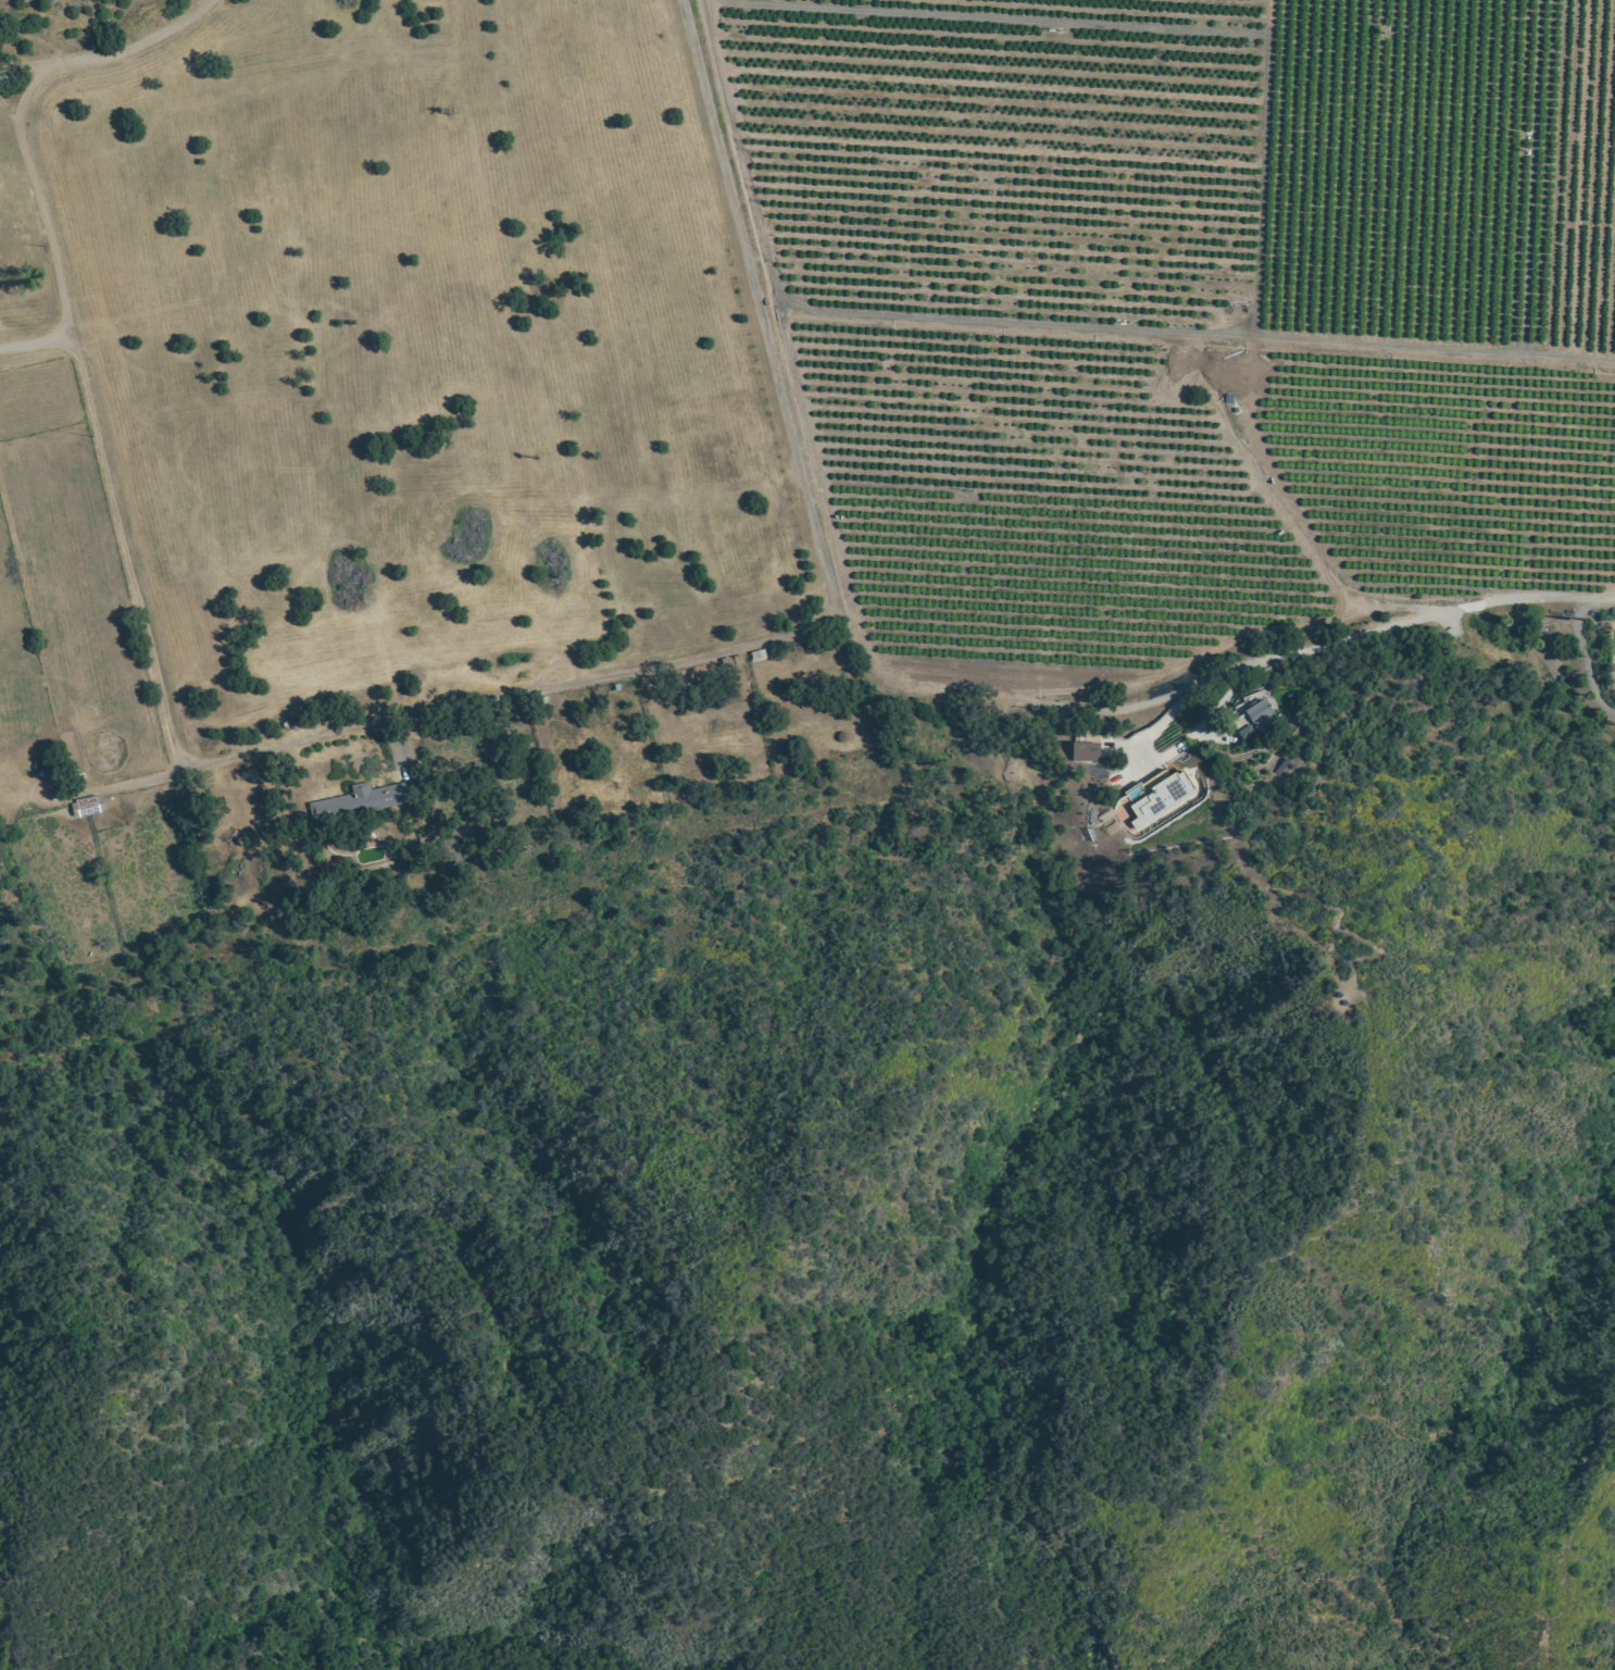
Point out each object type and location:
road: (8, 103)
road: (759, 296)
road: (35, 340)
road: (1443, 610)
road: (151, 657)
road: (1583, 662)
building: (1260, 714)
building: (1244, 733)
building: (1082, 751)
road: (1138, 755)
road: (139, 781)
building: (1151, 800)
building: (363, 801)

